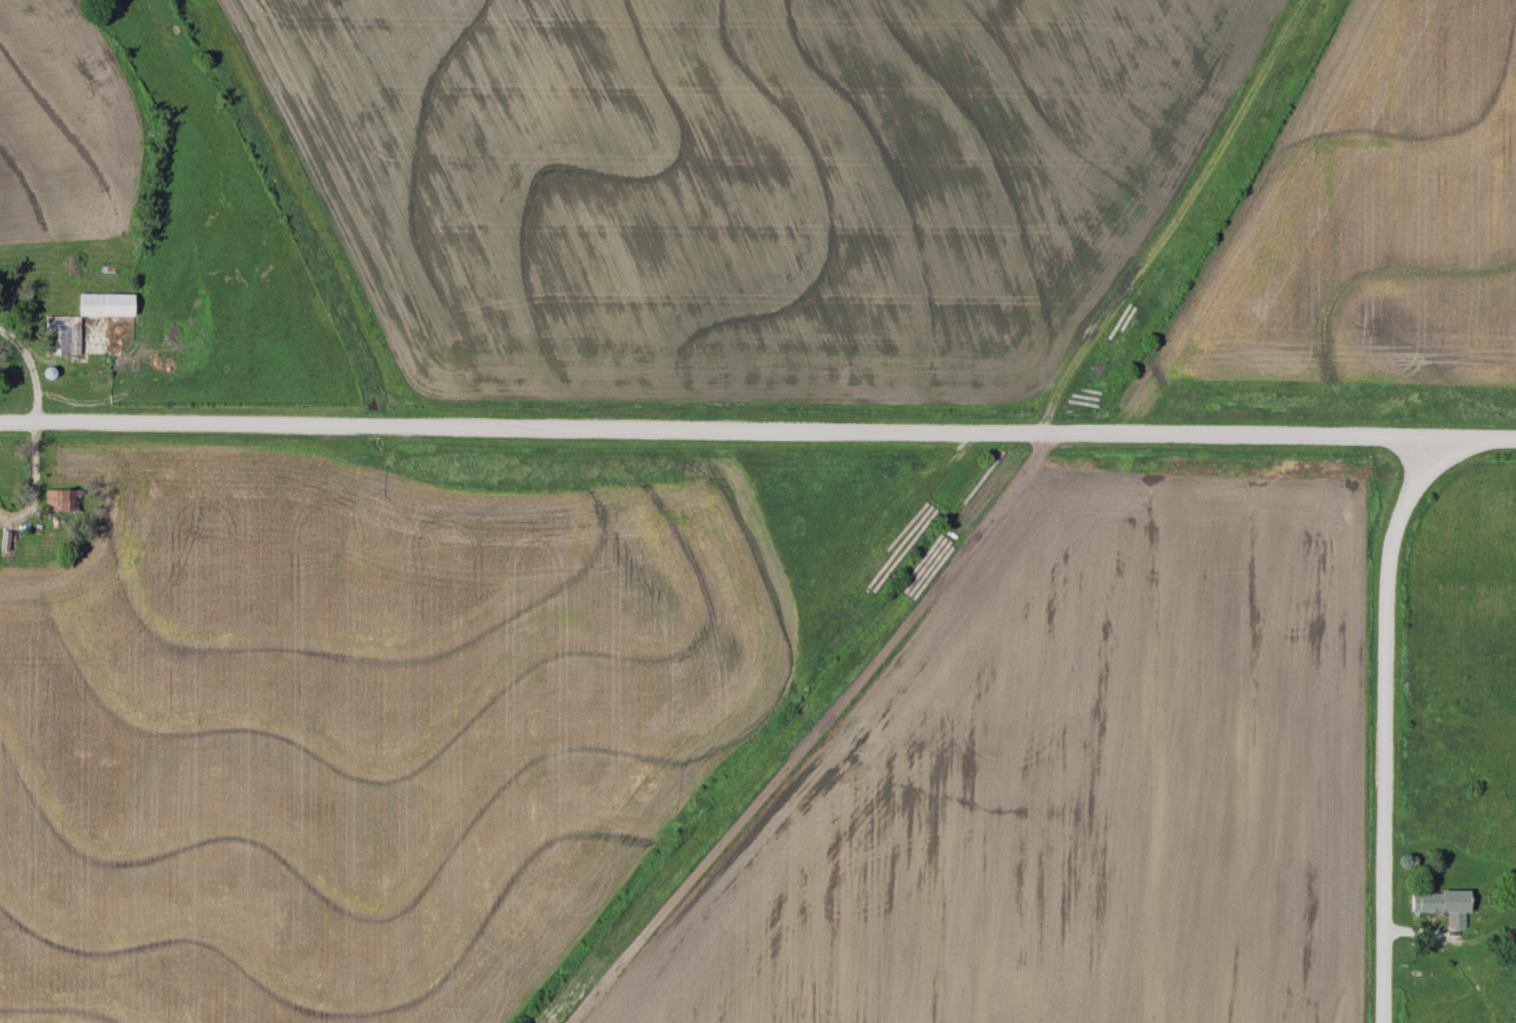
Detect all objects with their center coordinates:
crop: (1367, 222)
building: (63, 324)
road: (29, 371)
building: (79, 378)
road: (757, 431)
building: (57, 502)
building: (6, 543)
road: (1385, 723)
crop: (1076, 786)
building: (1444, 906)

